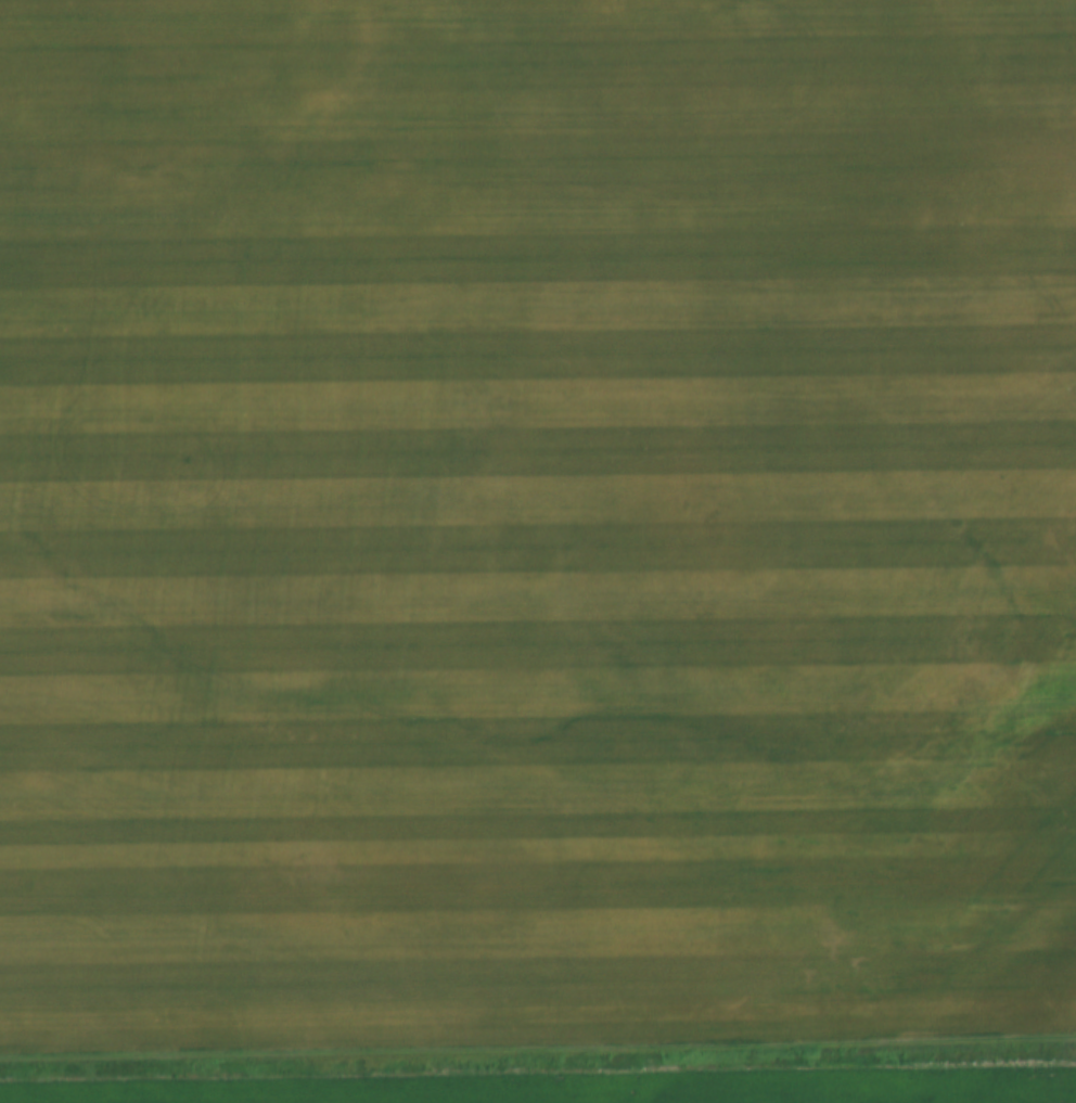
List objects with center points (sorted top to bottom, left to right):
road: (538, 1053)

